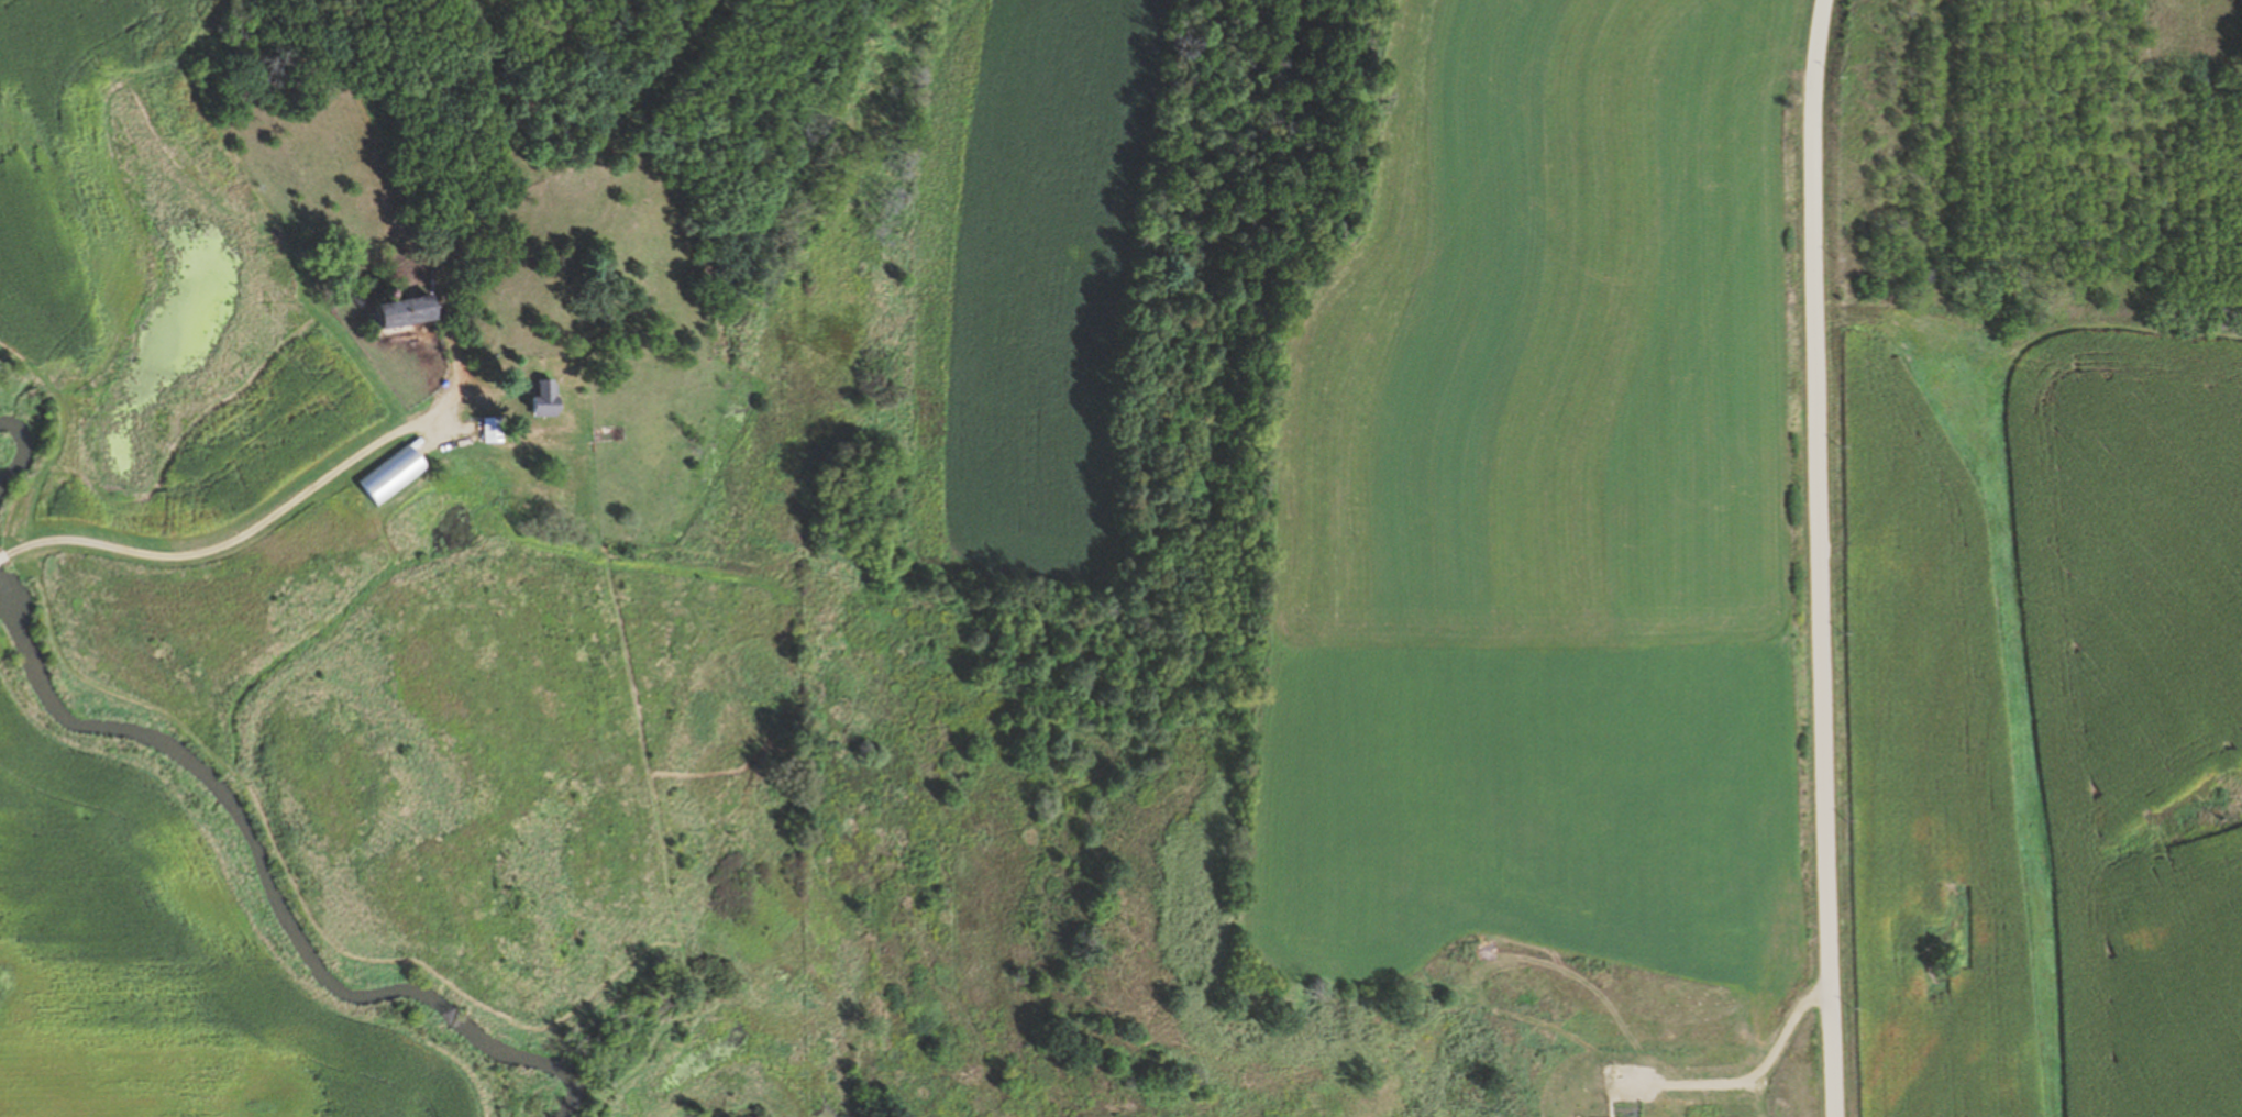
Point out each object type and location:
building: (413, 312)
building: (550, 399)
building: (495, 430)
building: (611, 433)
river: (29, 440)
building: (395, 474)
road: (228, 511)
road: (1820, 557)
river: (256, 878)
building: (1687, 1081)

